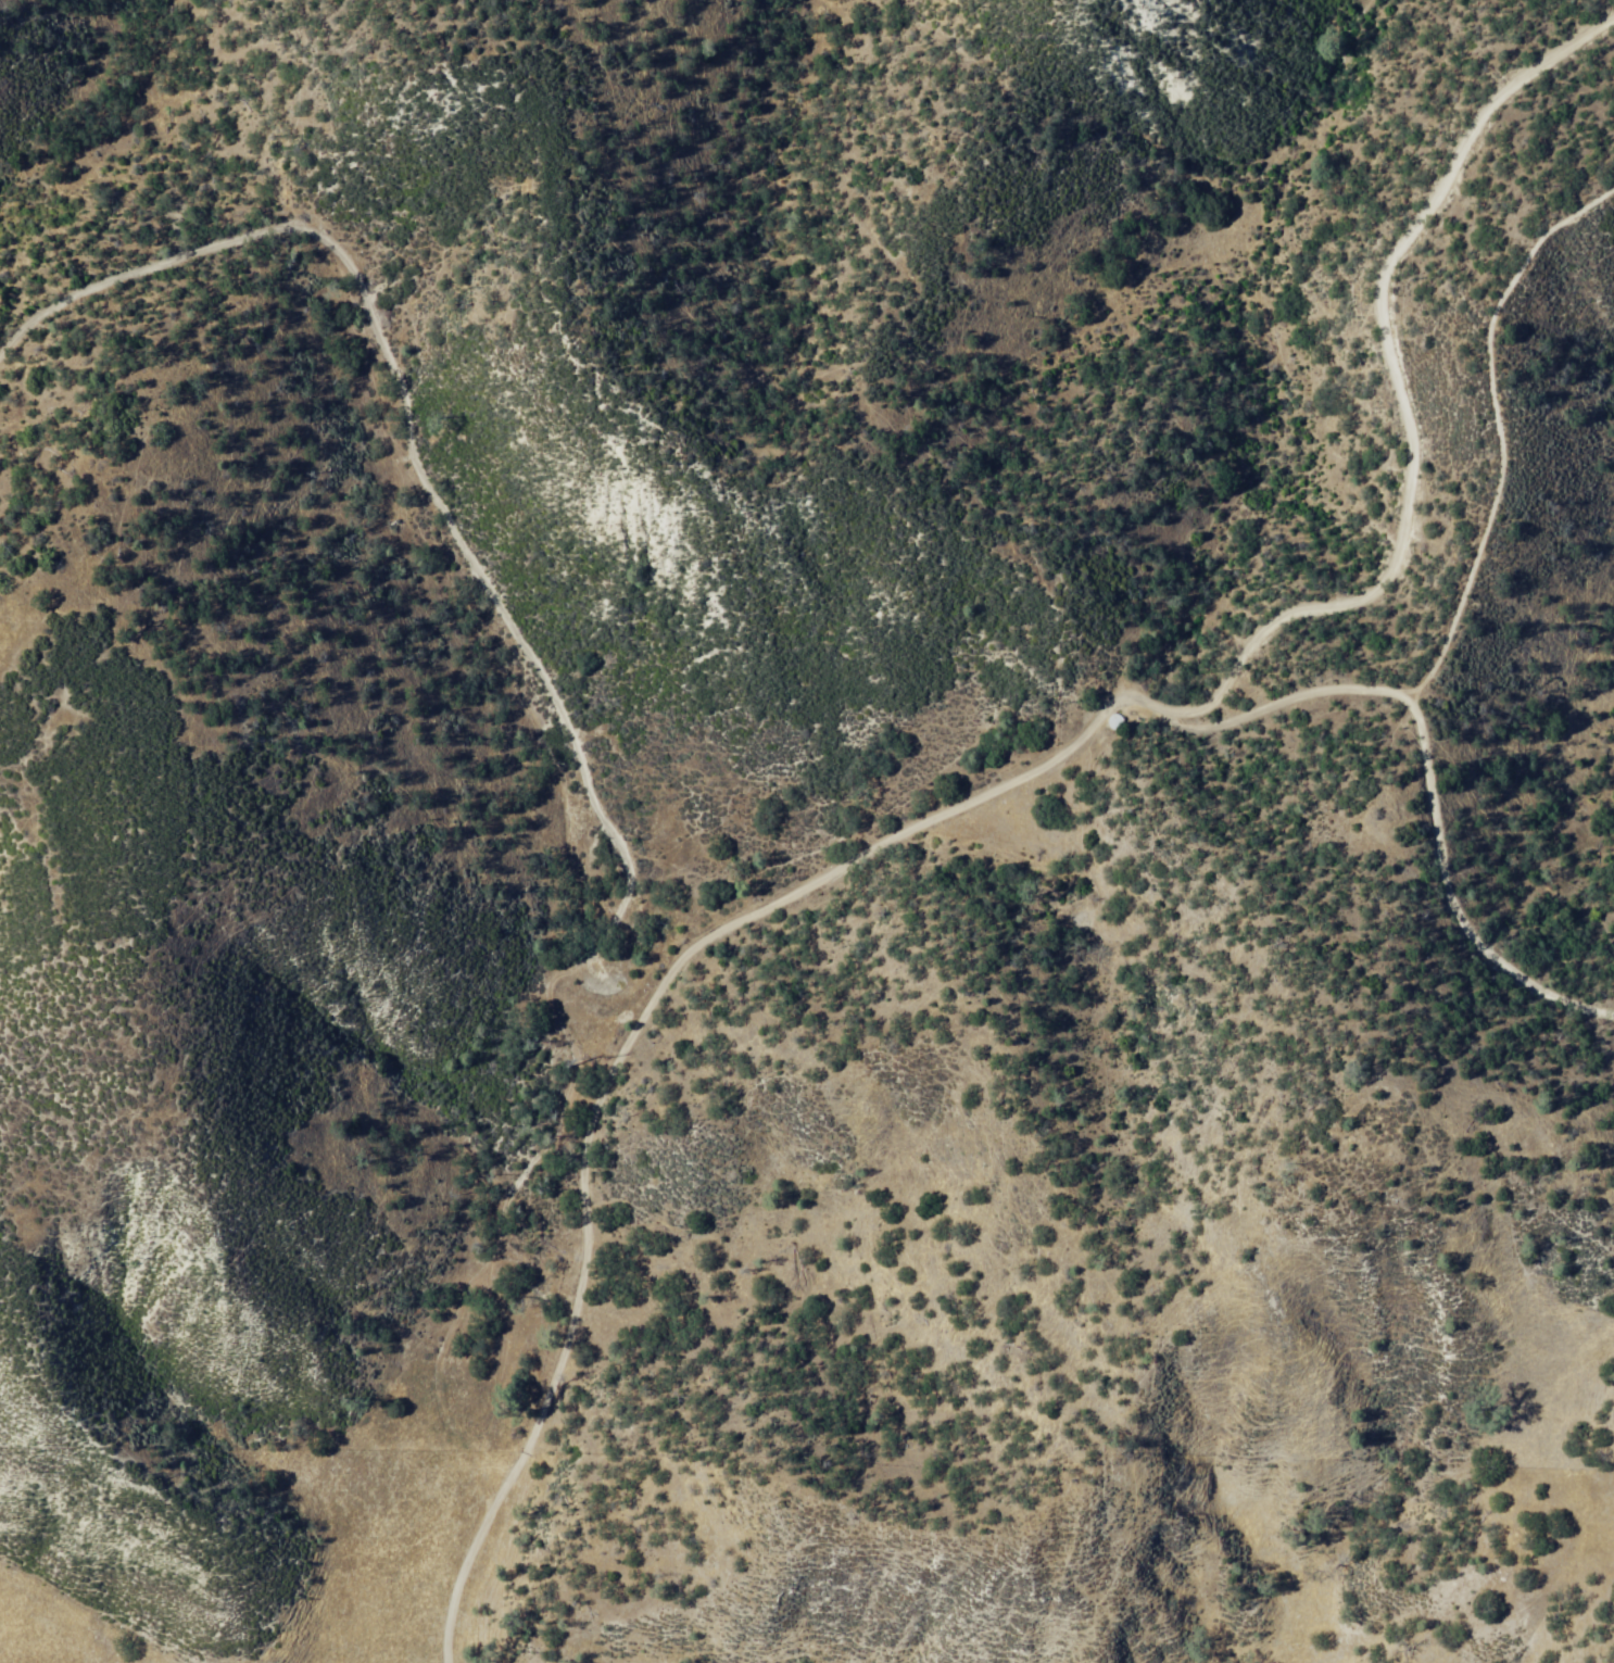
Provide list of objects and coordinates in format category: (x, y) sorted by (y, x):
road: (407, 448)
road: (1426, 765)
road: (1023, 774)

